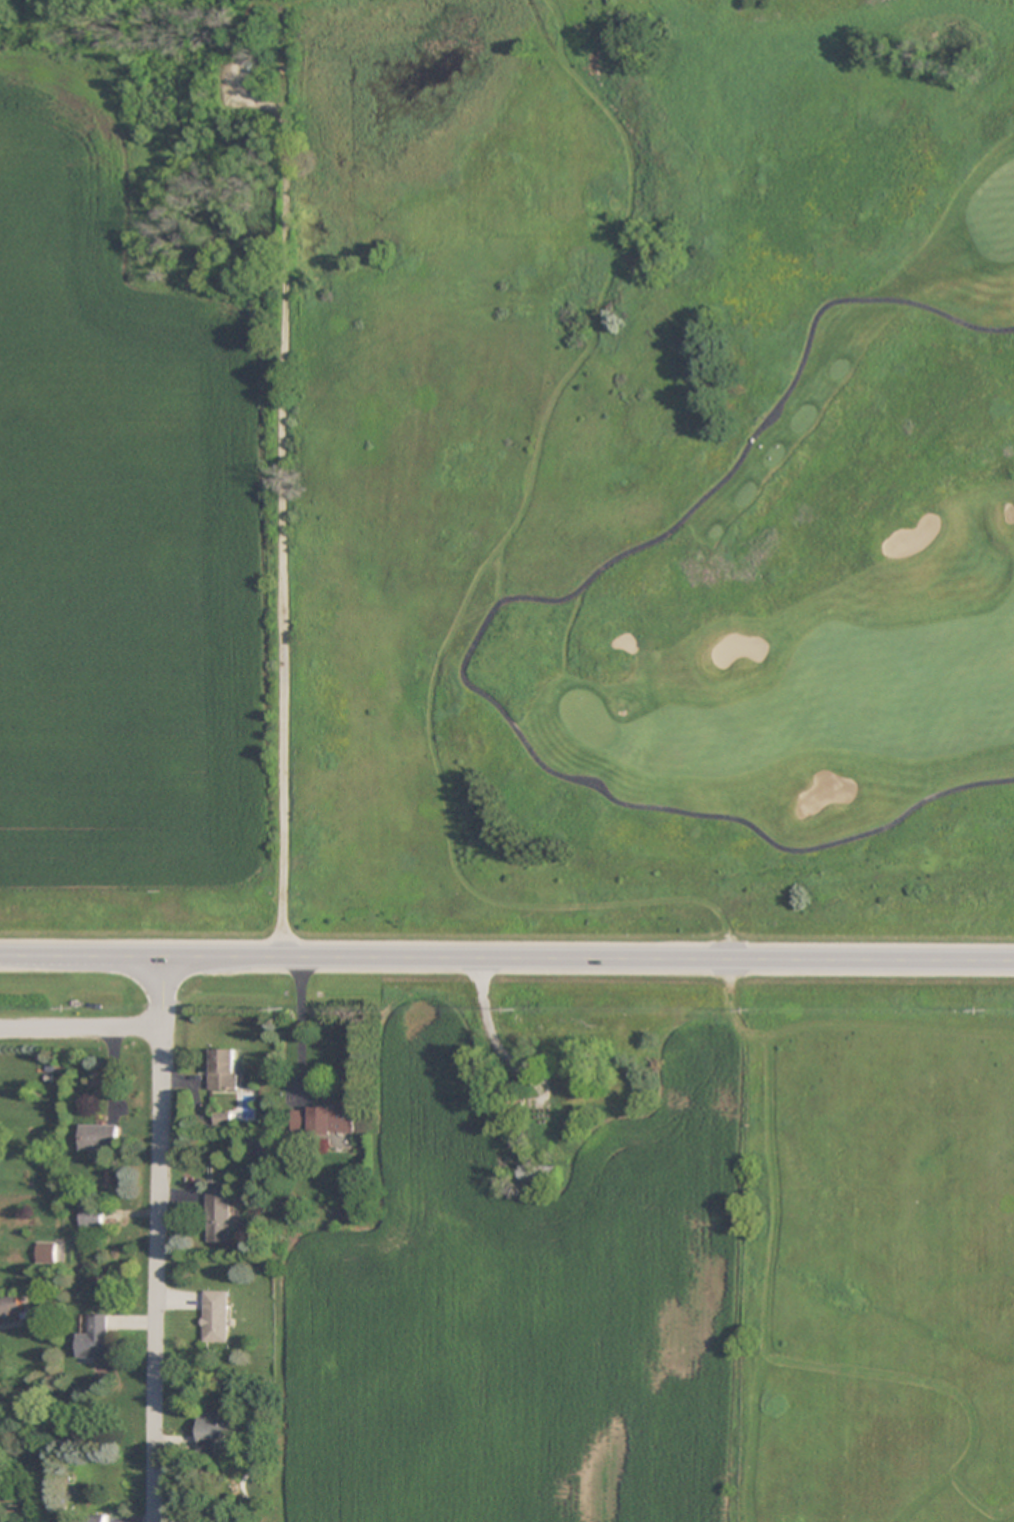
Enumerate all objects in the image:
park: (646, 475)
crop: (129, 551)
road: (487, 622)
road: (507, 957)
road: (79, 1027)
road: (299, 1027)
building: (570, 1057)
building: (223, 1069)
building: (322, 1122)
building: (100, 1138)
building: (261, 1146)
building: (540, 1173)
building: (218, 1215)
building: (92, 1218)
road: (157, 1239)
building: (48, 1253)
crop: (662, 1254)
building: (11, 1308)
building: (217, 1315)
building: (97, 1338)
building: (214, 1431)
building: (99, 1520)

